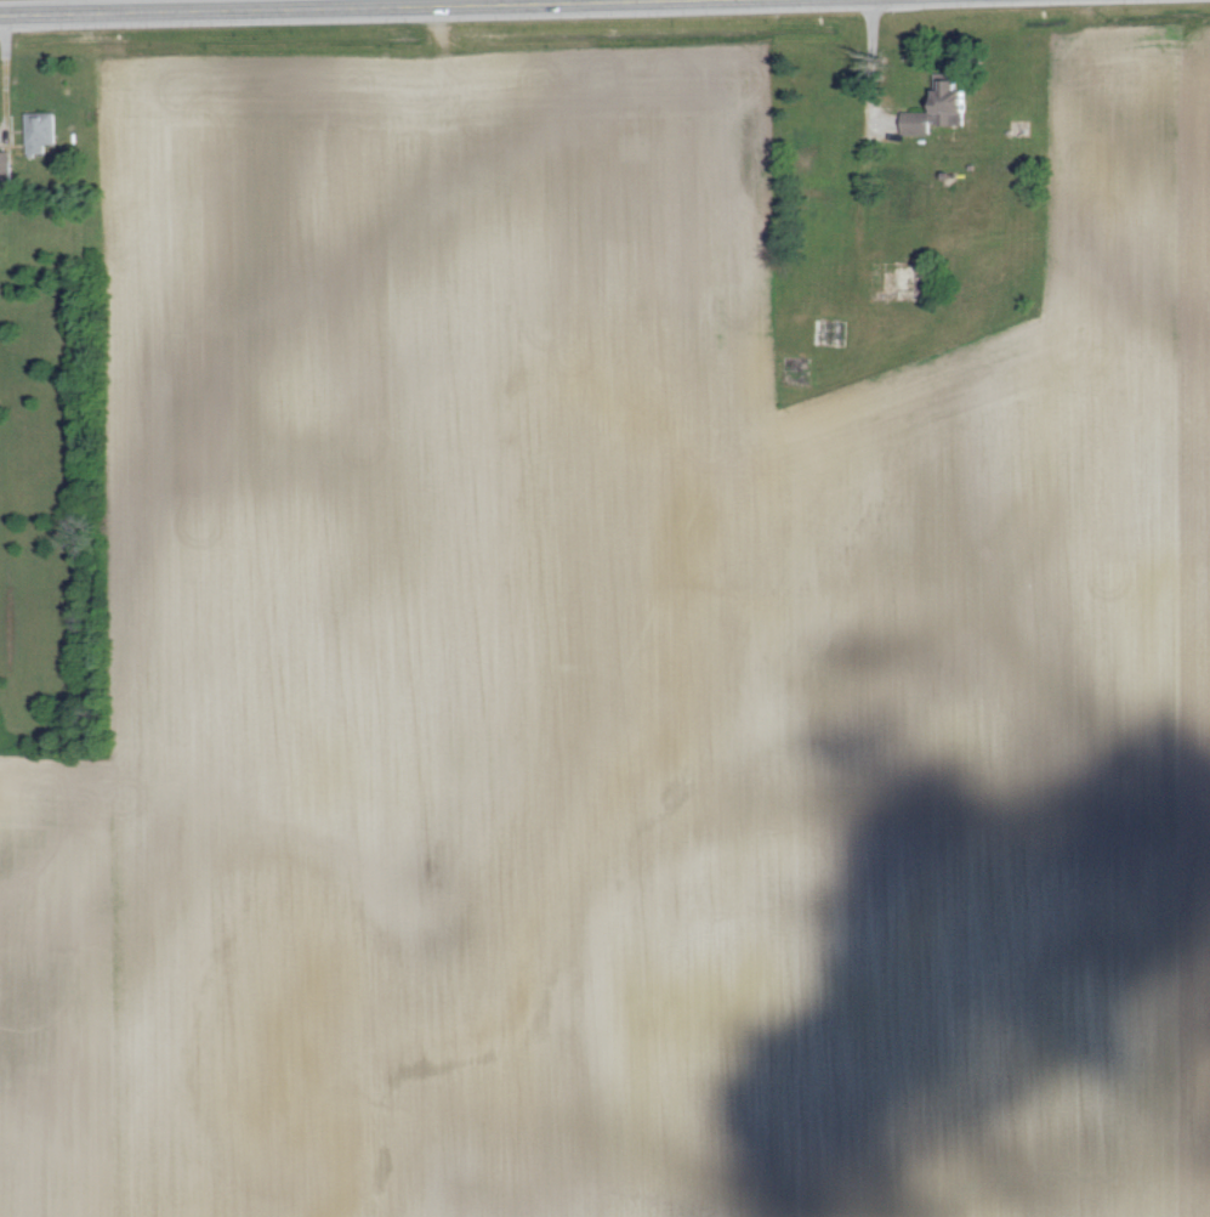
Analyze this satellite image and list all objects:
road: (124, 2)
road: (869, 61)
road: (5, 72)
building: (41, 131)
building: (6, 170)

